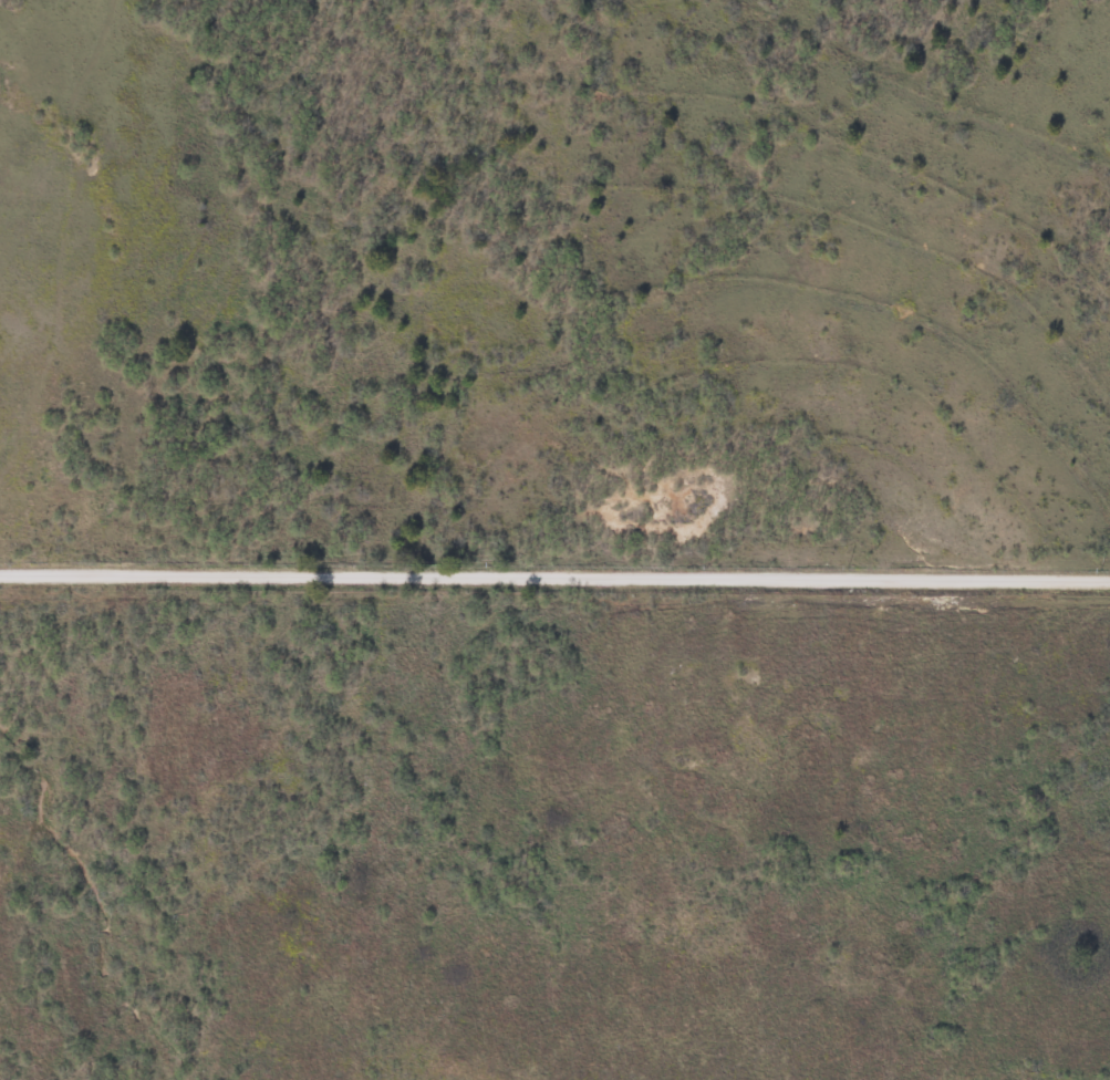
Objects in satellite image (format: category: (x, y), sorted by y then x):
road: (554, 579)

